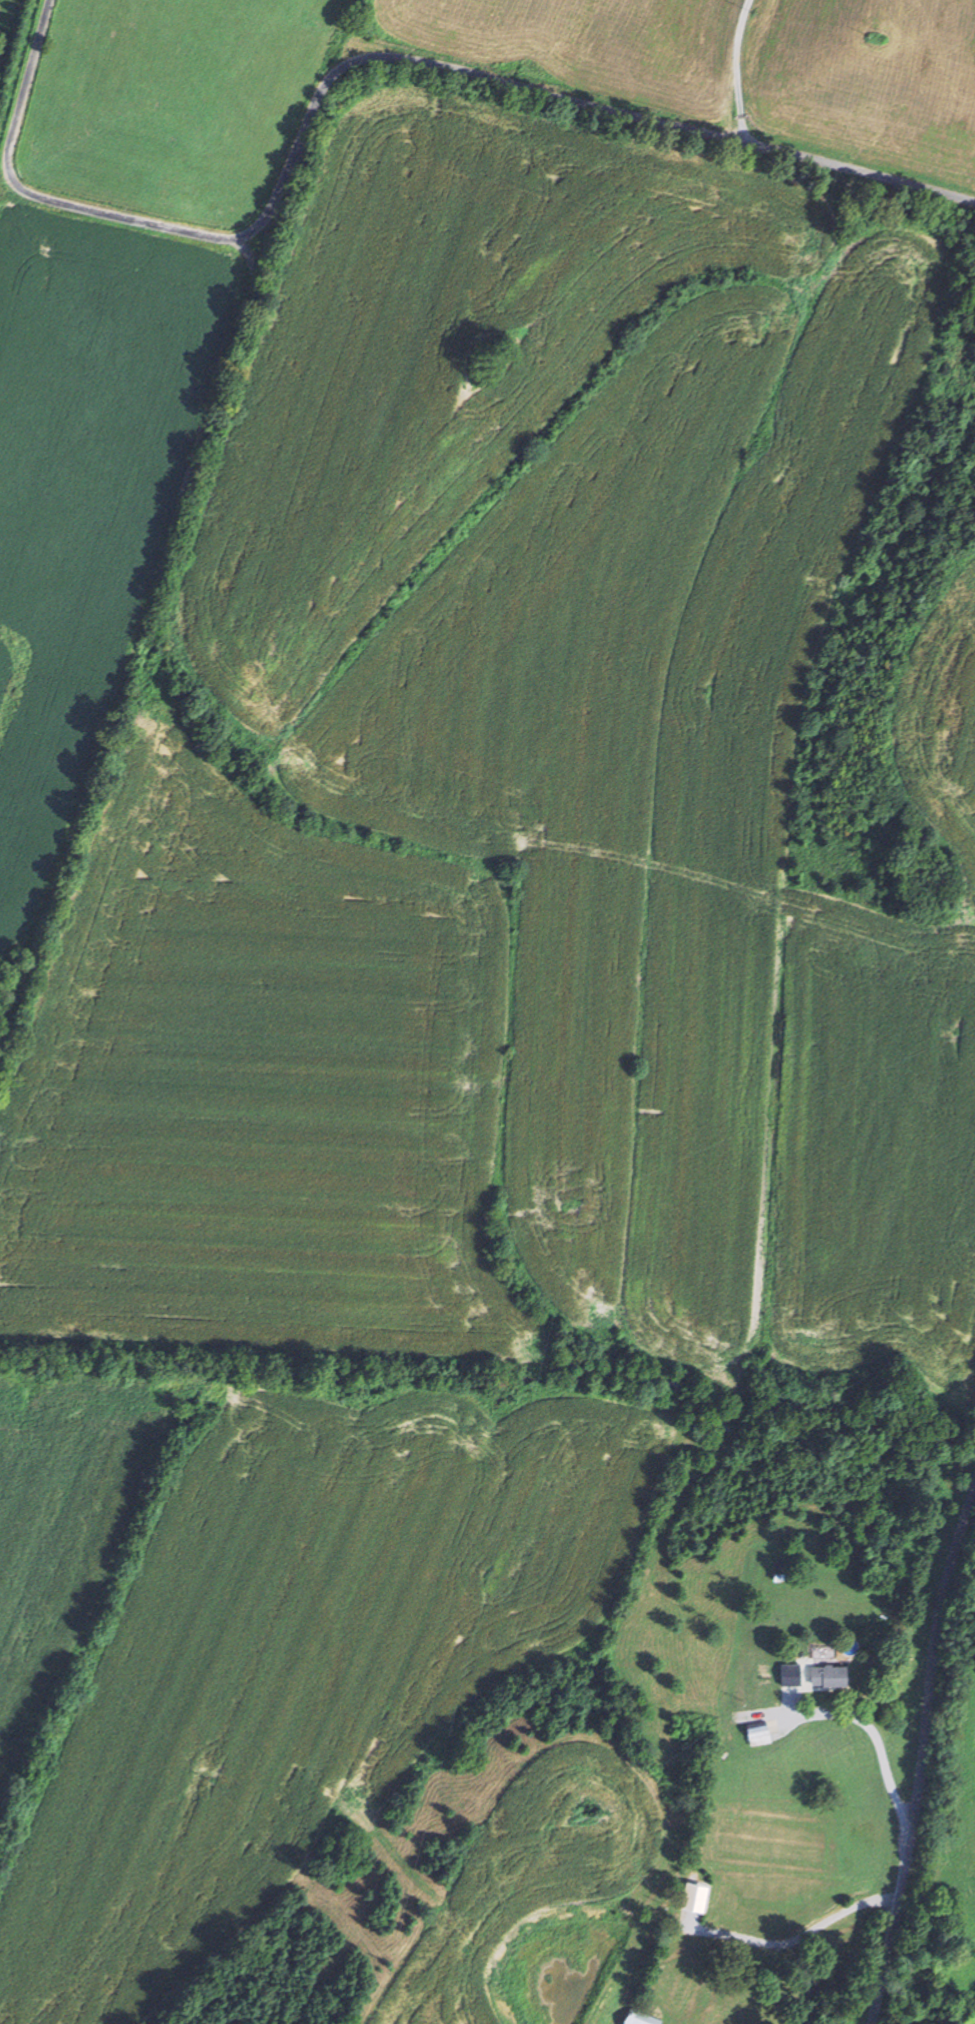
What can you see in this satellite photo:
road: (354, 65)
road: (740, 71)
road: (268, 237)
road: (248, 255)
road: (132, 662)
road: (924, 1756)

